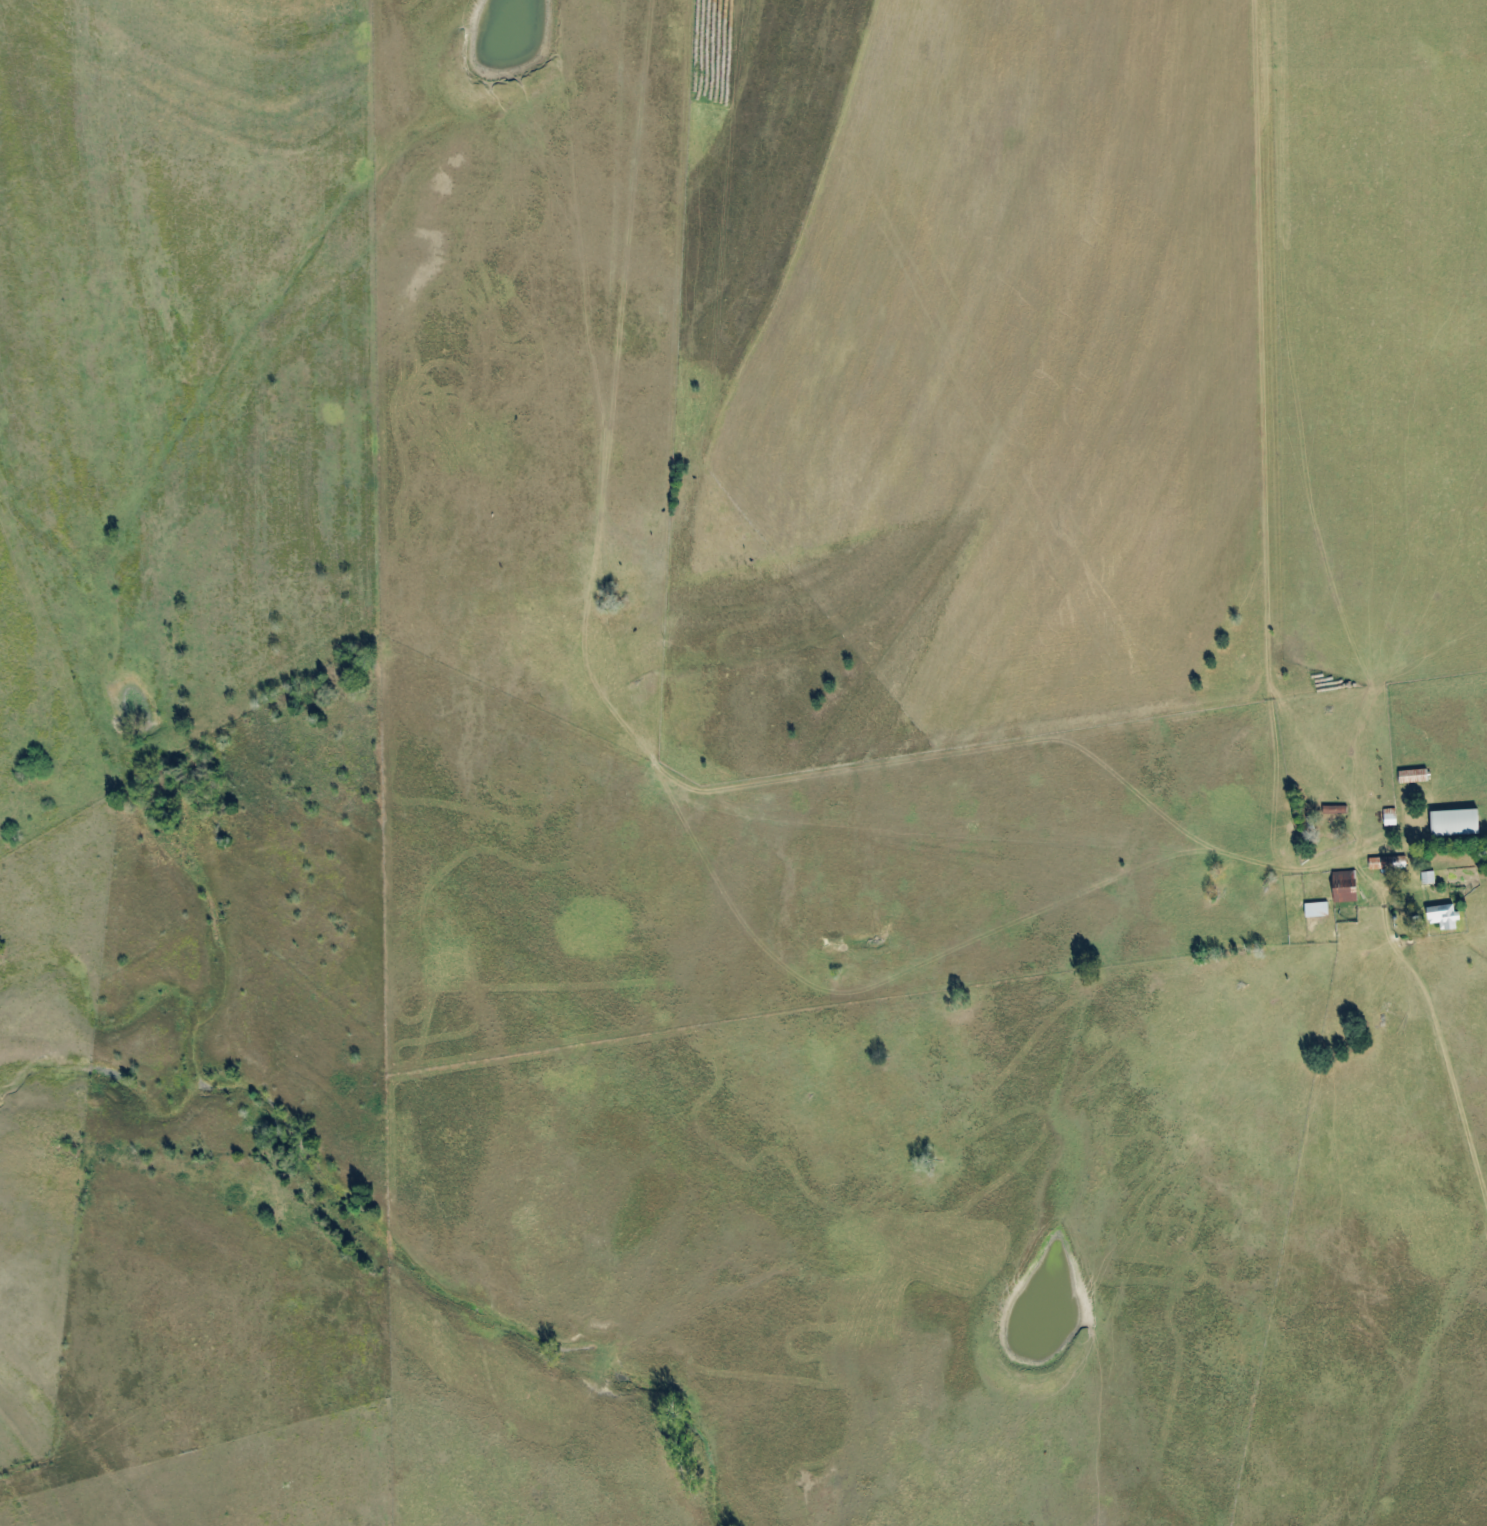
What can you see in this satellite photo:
building: (1455, 823)
building: (1444, 917)
road: (1449, 1101)

